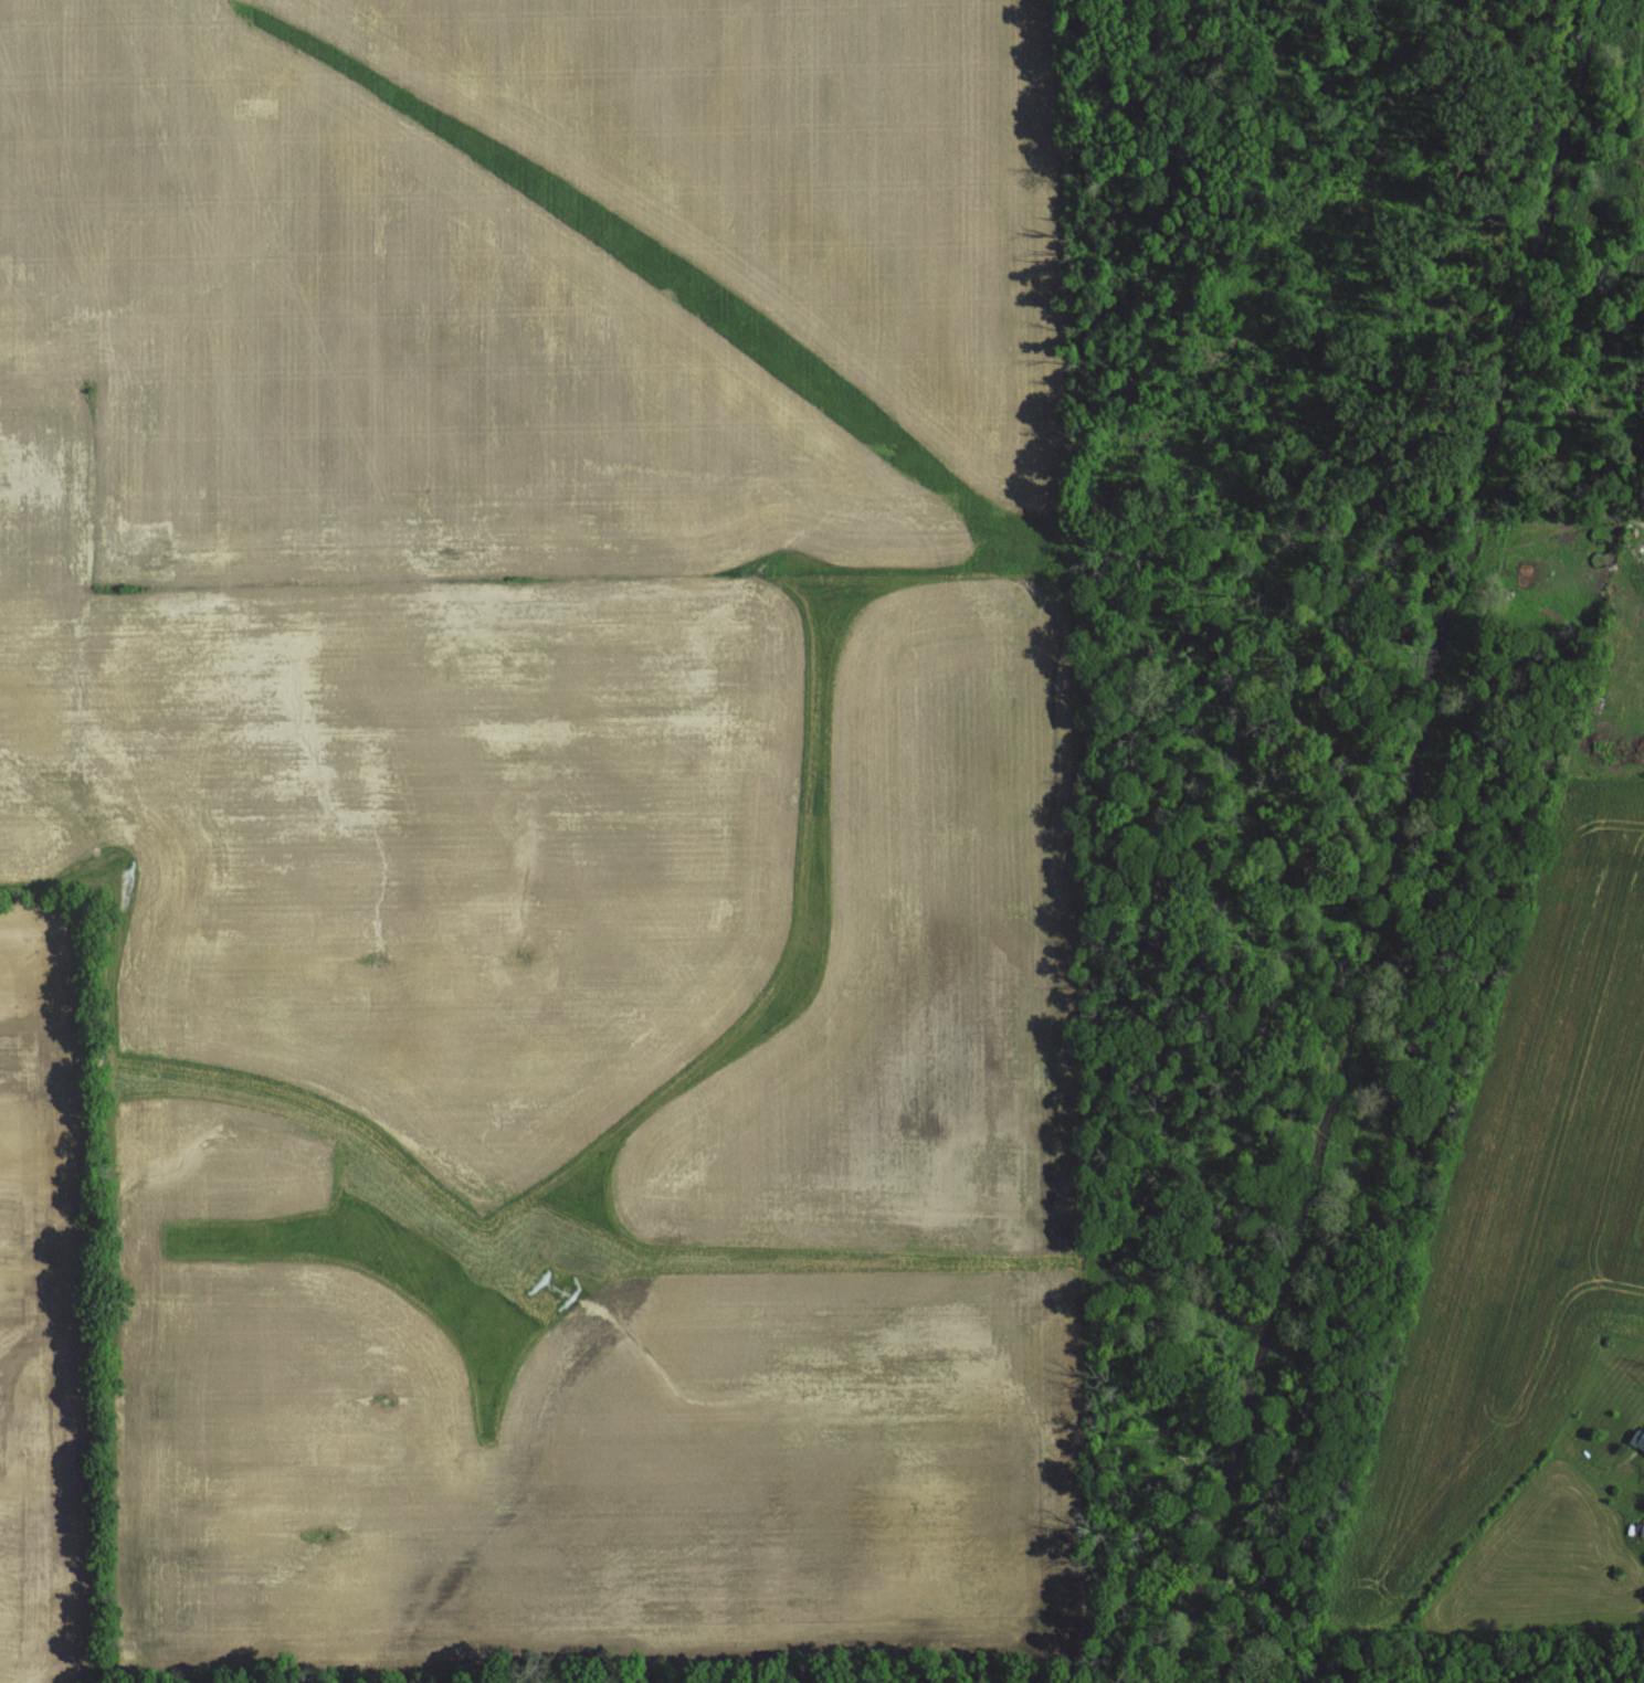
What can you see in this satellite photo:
building: (1638, 1438)

